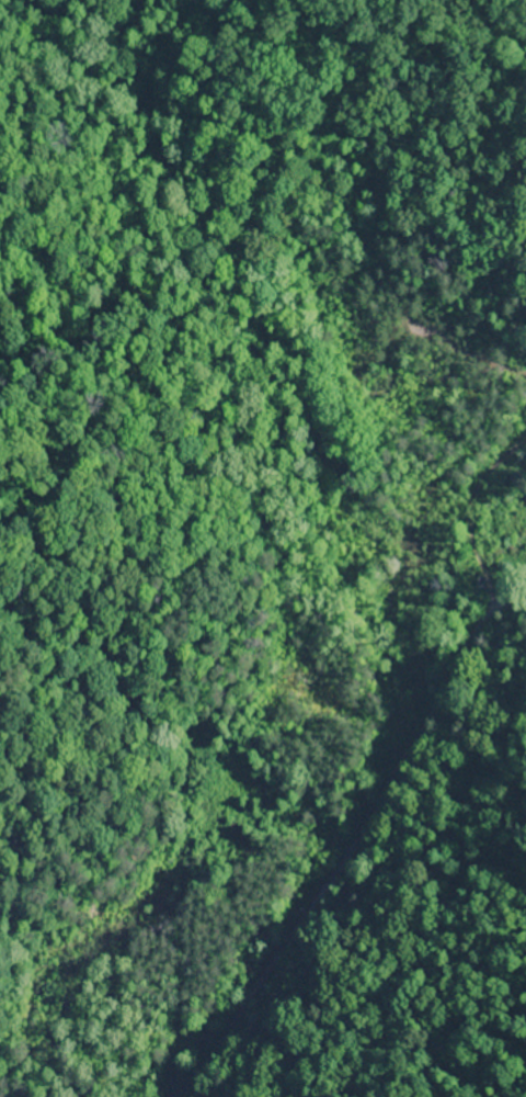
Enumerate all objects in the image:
road: (351, 847)

